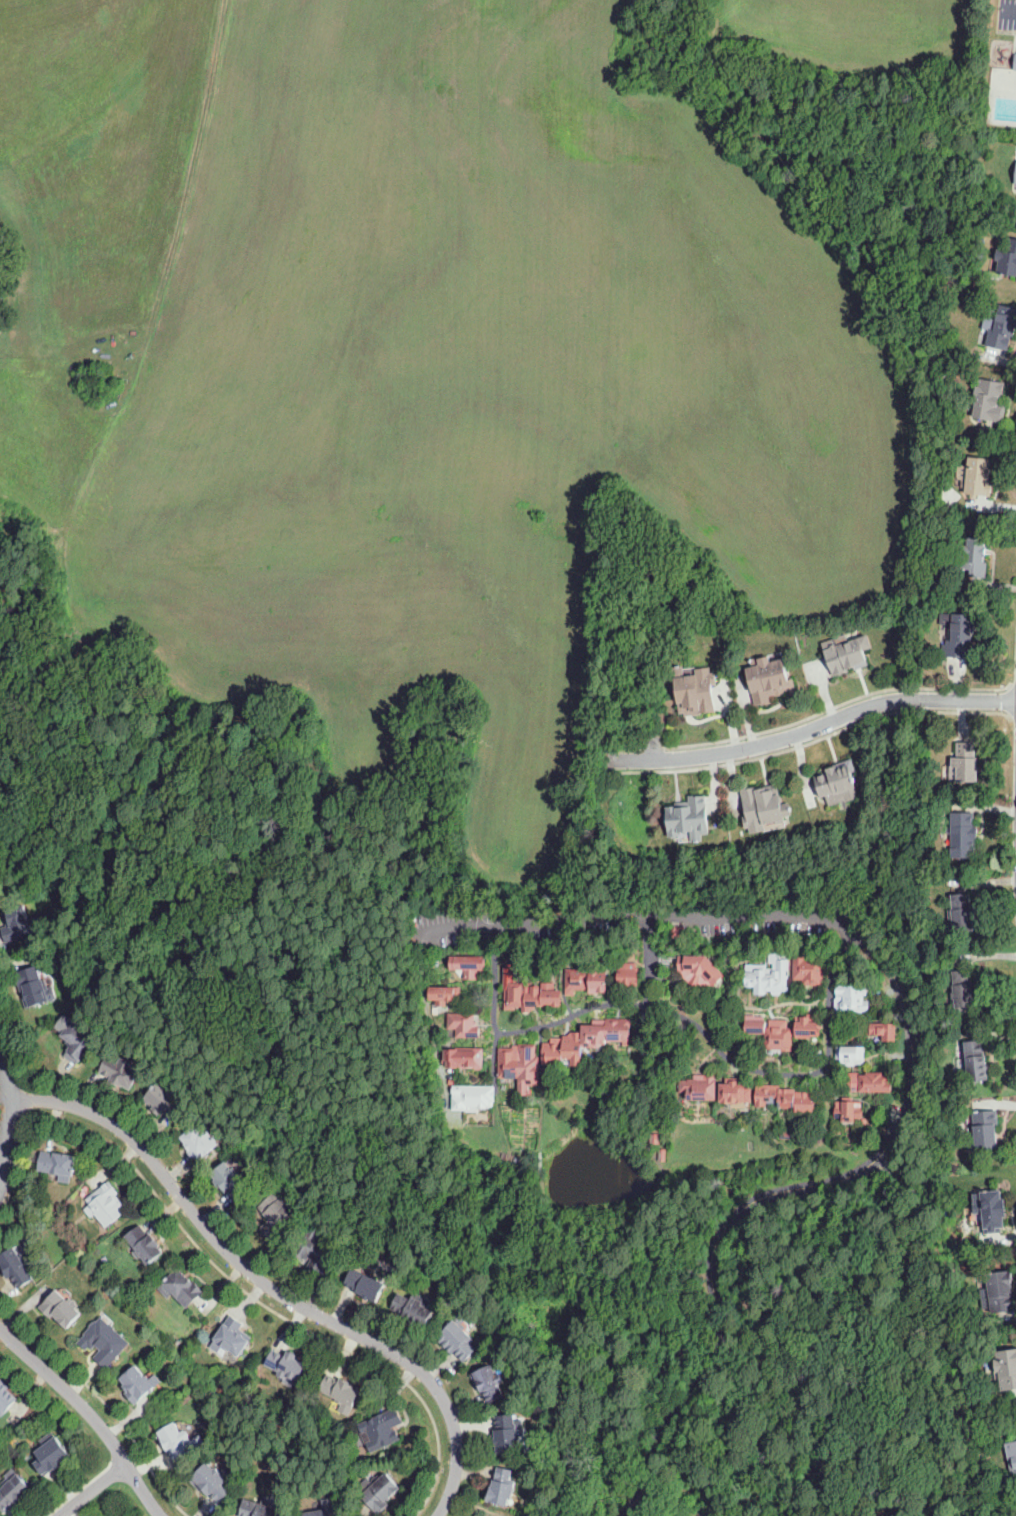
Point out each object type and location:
road: (1009, 10)
parking lot: (1007, 14)
crop: (855, 30)
building: (1015, 181)
building: (1007, 259)
building: (1002, 327)
crop: (409, 356)
building: (91, 376)
building: (988, 401)
building: (979, 475)
building: (973, 557)
building: (958, 634)
building: (847, 653)
building: (770, 679)
road: (969, 688)
building: (695, 689)
road: (813, 727)
road: (769, 728)
road: (814, 739)
road: (653, 745)
building: (965, 764)
building: (839, 784)
building: (763, 807)
building: (690, 818)
building: (962, 835)
building: (962, 914)
building: (18, 924)
building: (677, 932)
road: (647, 951)
building: (467, 965)
building: (698, 971)
building: (808, 971)
building: (627, 974)
building: (768, 976)
building: (585, 980)
building: (32, 986)
building: (963, 991)
building: (443, 995)
building: (530, 995)
road: (645, 996)
building: (850, 999)
road: (494, 1001)
building: (463, 1025)
building: (809, 1025)
building: (881, 1031)
building: (770, 1032)
building: (850, 1036)
building: (78, 1040)
building: (585, 1040)
road: (723, 1053)
building: (849, 1054)
building: (817, 1055)
building: (463, 1058)
road: (15, 1059)
building: (975, 1061)
building: (519, 1066)
road: (914, 1070)
building: (121, 1071)
building: (868, 1079)
building: (550, 1081)
building: (699, 1087)
building: (734, 1092)
building: (472, 1097)
building: (785, 1098)
building: (166, 1102)
building: (848, 1109)
road: (8, 1113)
building: (864, 1121)
building: (981, 1130)
building: (786, 1135)
building: (199, 1142)
building: (662, 1155)
building: (515, 1157)
building: (57, 1163)
building: (232, 1181)
building: (105, 1204)
building: (988, 1209)
building: (274, 1213)
building: (144, 1245)
building: (315, 1250)
building: (17, 1267)
road: (222, 1270)
road: (267, 1284)
building: (364, 1285)
building: (181, 1288)
building: (999, 1292)
building: (61, 1308)
building: (412, 1308)
building: (231, 1337)
building: (177, 1340)
building: (104, 1341)
building: (458, 1341)
road: (47, 1347)
building: (286, 1364)
building: (1006, 1369)
building: (139, 1384)
building: (489, 1384)
building: (340, 1390)
building: (353, 1395)
building: (6, 1397)
road: (89, 1414)
building: (382, 1429)
building: (508, 1433)
building: (178, 1441)
road: (142, 1454)
building: (52, 1456)
building: (1012, 1457)
building: (211, 1480)
road: (83, 1485)
building: (394, 1487)
building: (502, 1487)
road: (90, 1488)
building: (13, 1491)
building: (381, 1493)
road: (477, 1504)
building: (262, 1508)
building: (322, 1512)
building: (481, 1514)
building: (120, 1515)

